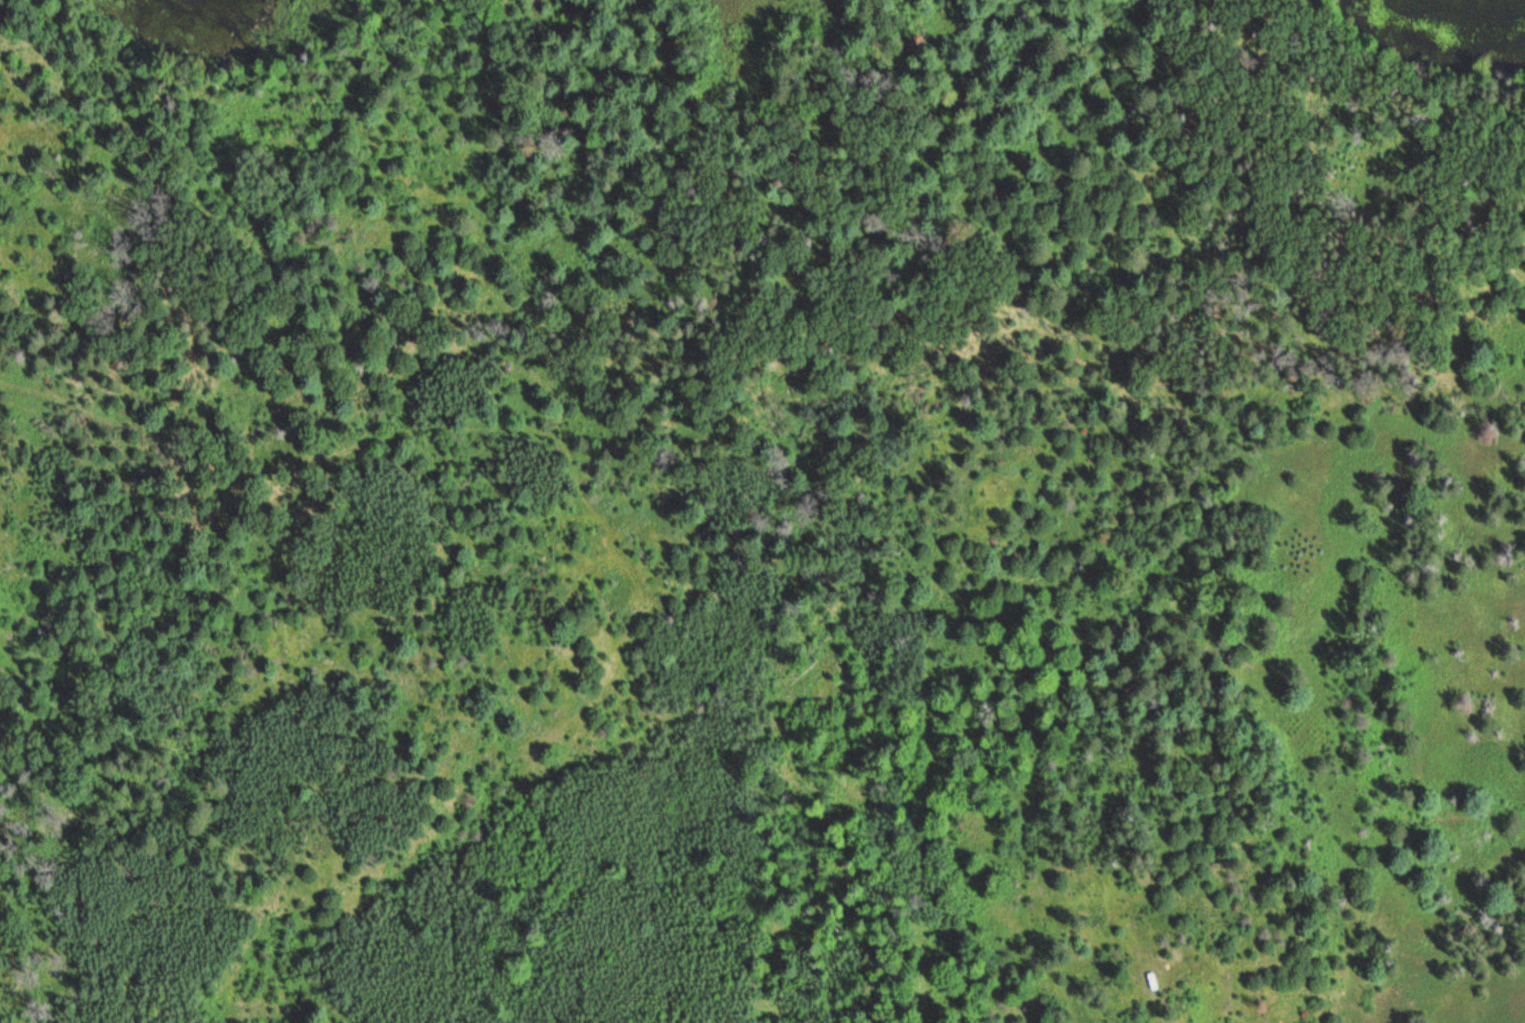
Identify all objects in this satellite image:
road: (1333, 1007)

